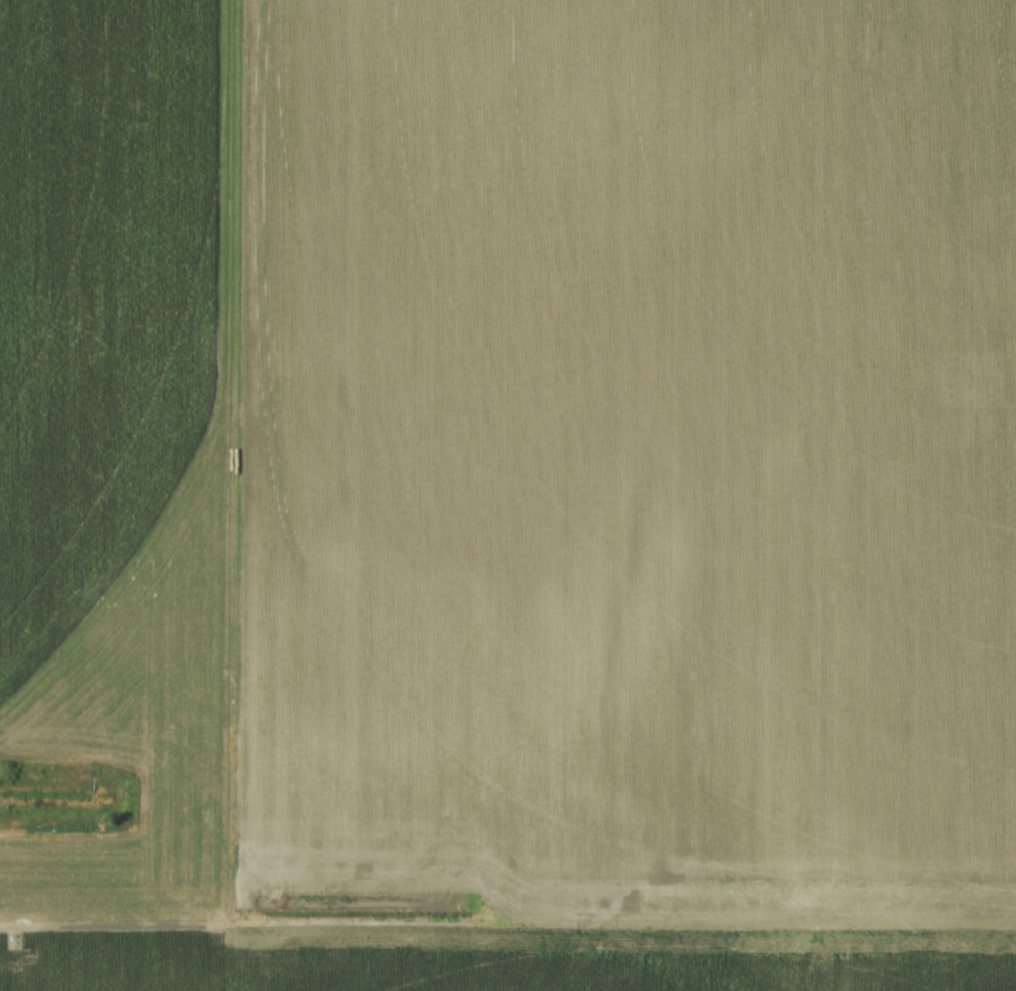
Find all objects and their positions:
crop: (508, 495)

